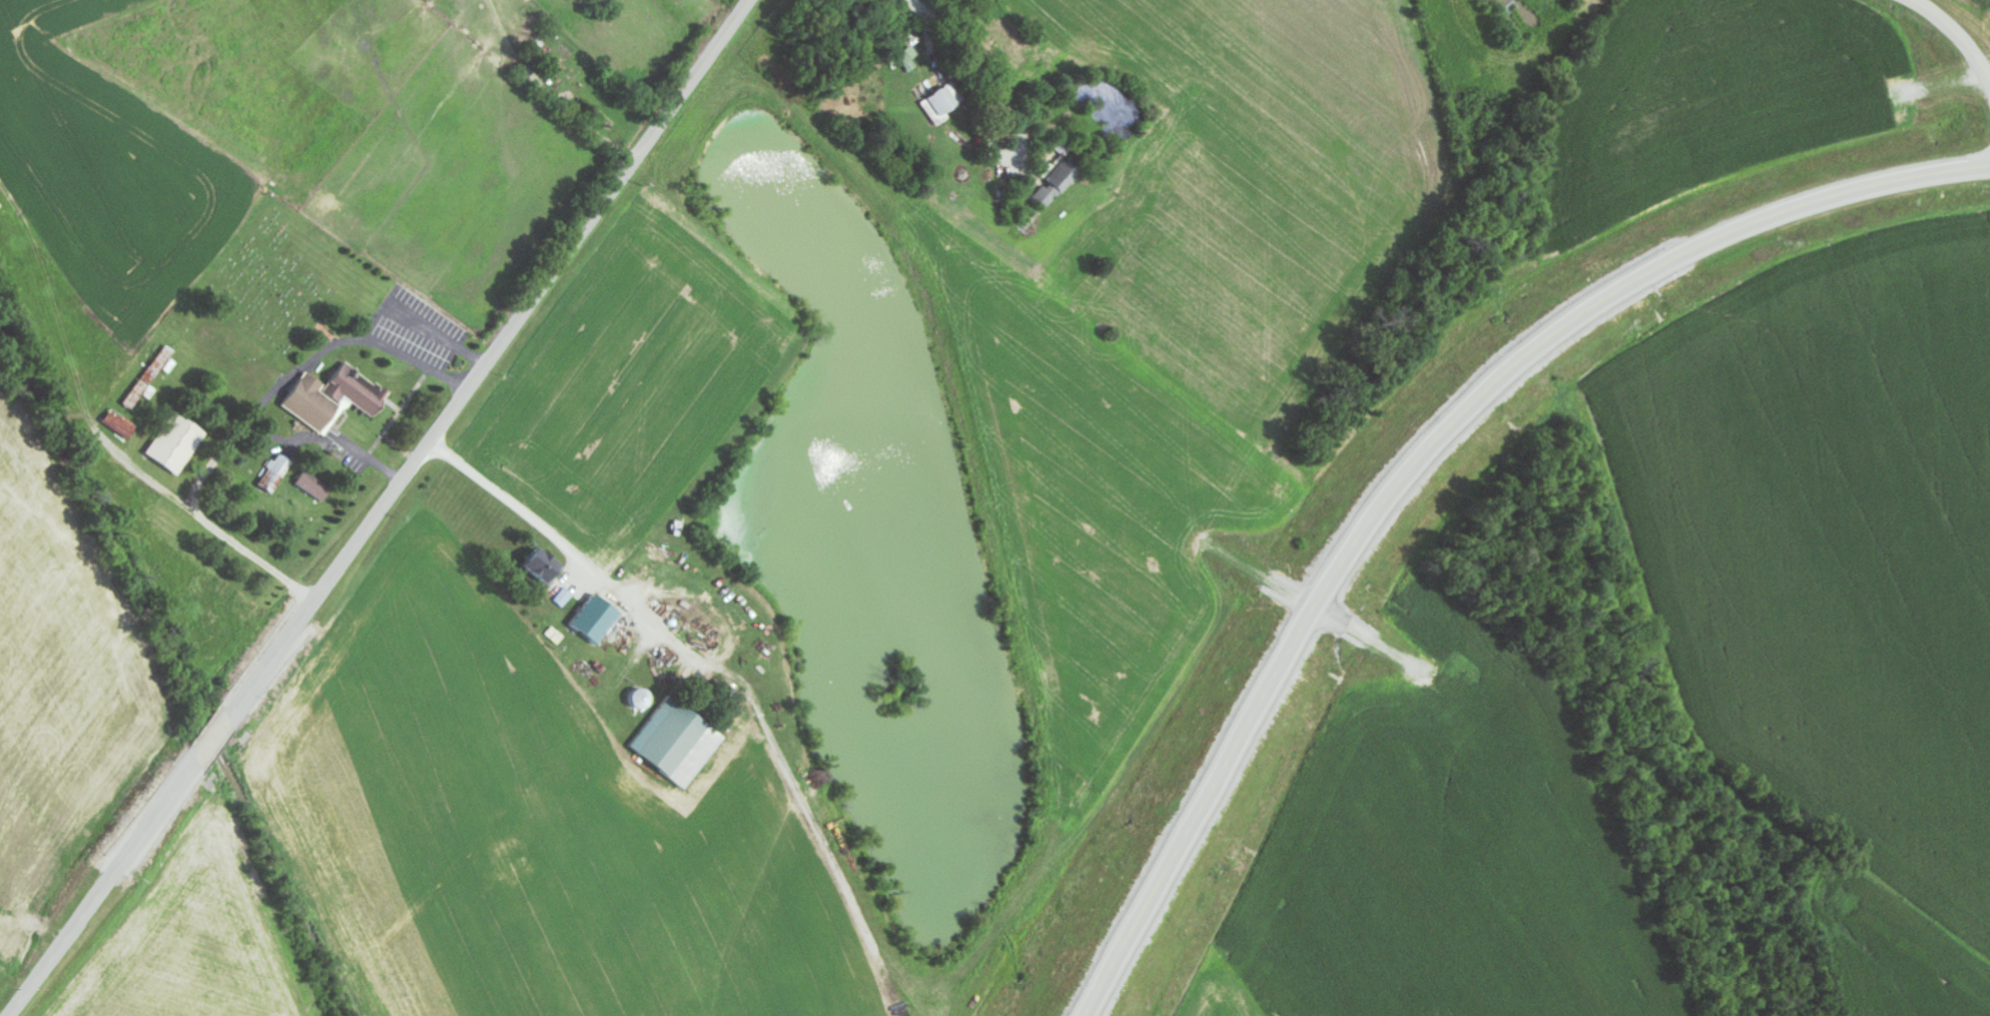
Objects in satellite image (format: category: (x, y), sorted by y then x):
road: (1953, 37)
building: (910, 55)
road: (995, 56)
road: (550, 89)
building: (942, 99)
building: (1061, 176)
building: (1040, 198)
park: (279, 279)
road: (489, 359)
building: (151, 377)
building: (358, 390)
building: (313, 403)
building: (122, 425)
building: (179, 444)
road: (1422, 458)
building: (277, 473)
building: (316, 486)
road: (216, 529)
building: (545, 566)
road: (587, 573)
building: (565, 598)
road: (1313, 614)
building: (598, 619)
road: (214, 741)
building: (679, 742)
road: (102, 889)

